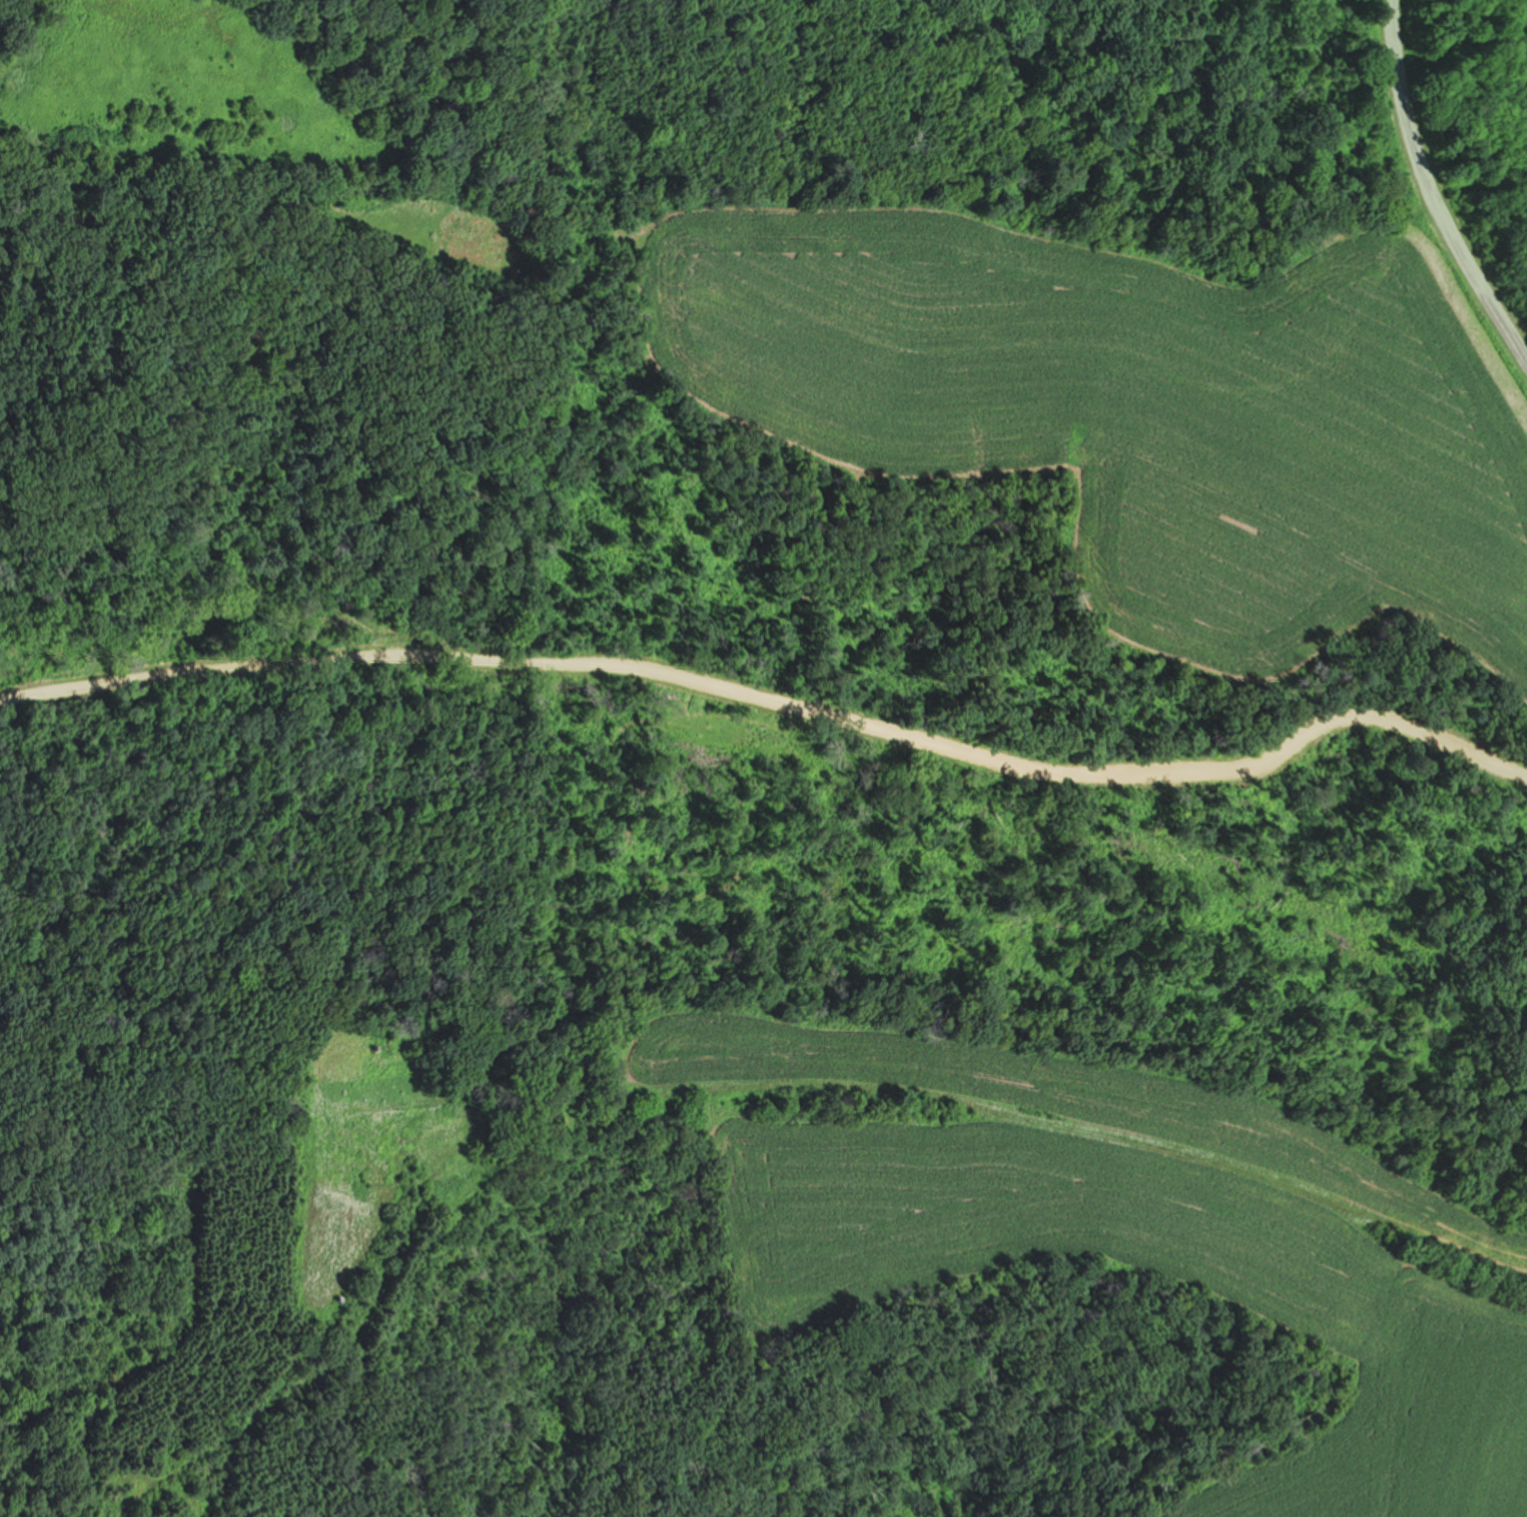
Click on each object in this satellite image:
road: (1436, 186)
road: (778, 700)

